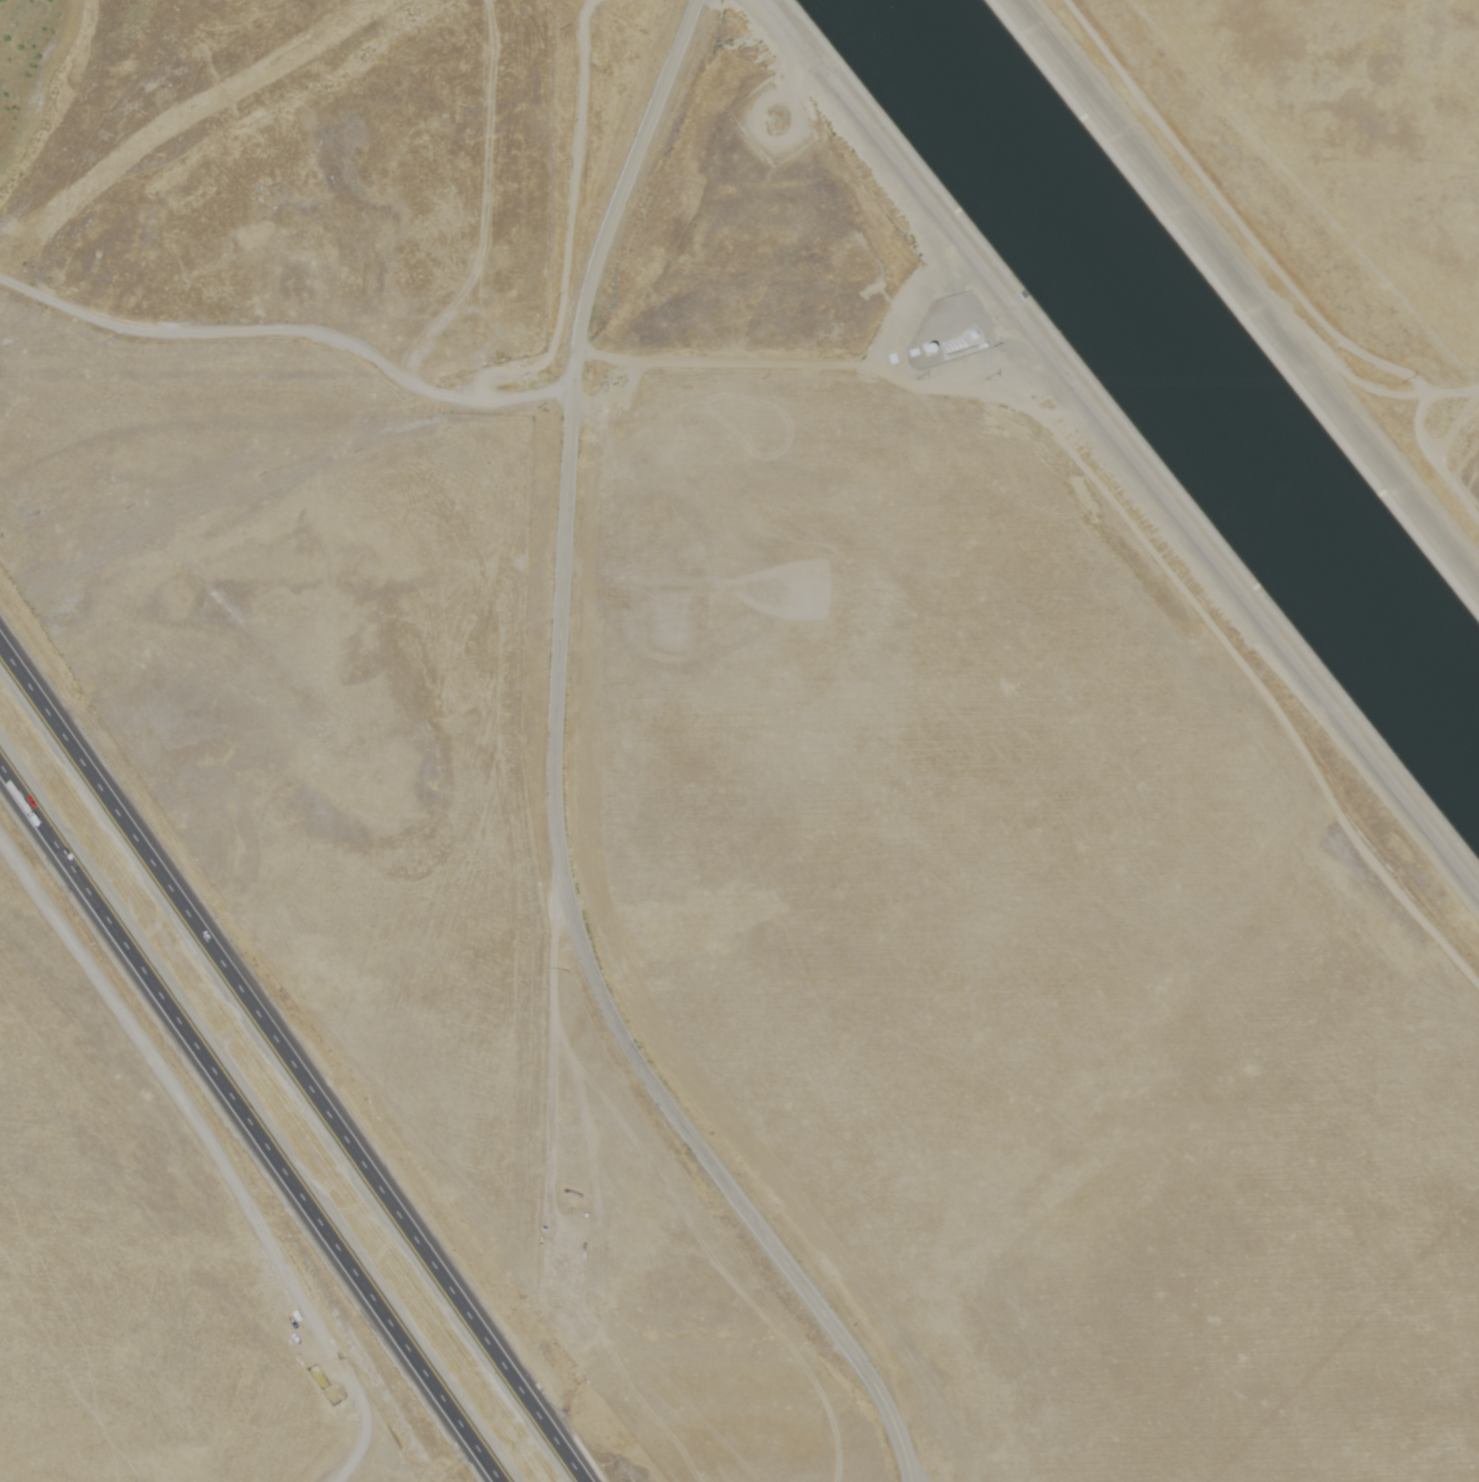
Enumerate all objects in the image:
road: (287, 336)
road: (569, 409)
crop: (1439, 439)
road: (1125, 445)
crop: (1030, 938)
road: (296, 1057)
road: (254, 1117)
road: (221, 1153)
road: (723, 1170)

